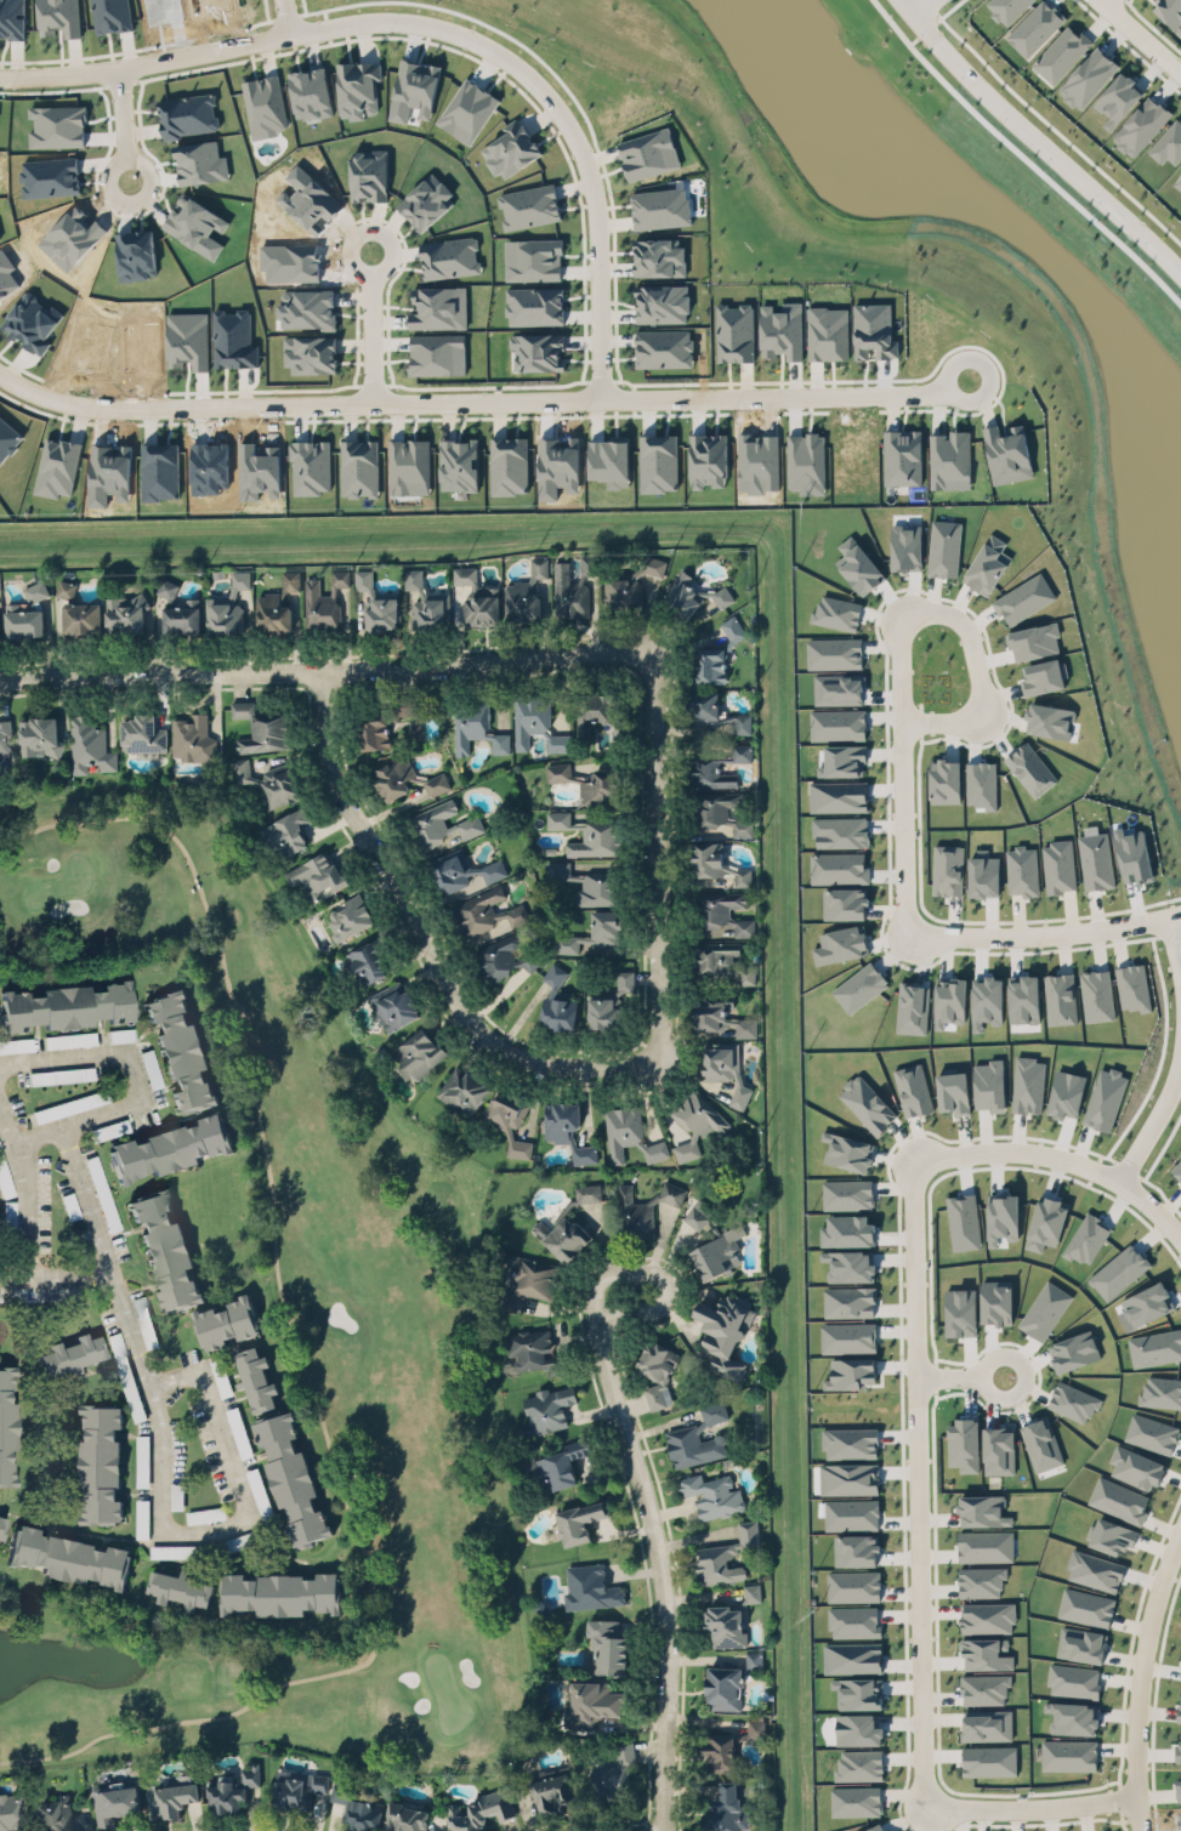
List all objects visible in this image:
road: (893, 0)
road: (1095, 0)
road: (1096, 0)
building: (1006, 8)
building: (1169, 11)
road: (278, 17)
building: (1035, 27)
road: (433, 34)
road: (1139, 39)
building: (1061, 53)
building: (1086, 73)
building: (358, 84)
building: (414, 89)
building: (310, 90)
building: (1118, 98)
building: (265, 104)
building: (467, 109)
road: (121, 124)
building: (1140, 125)
road: (1035, 137)
building: (1169, 143)
building: (505, 147)
building: (648, 153)
building: (368, 175)
building: (1177, 183)
building: (426, 201)
building: (528, 203)
building: (658, 204)
building: (455, 255)
building: (658, 256)
building: (662, 302)
building: (438, 305)
building: (534, 305)
building: (306, 306)
building: (45, 324)
building: (782, 326)
road: (362, 328)
building: (873, 330)
building: (734, 331)
building: (827, 332)
building: (308, 351)
building: (538, 351)
road: (602, 402)
road: (118, 408)
building: (1007, 453)
building: (901, 454)
building: (456, 461)
building: (609, 461)
building: (806, 461)
building: (509, 465)
building: (311, 466)
building: (409, 466)
building: (359, 467)
building: (907, 546)
building: (944, 547)
building: (988, 564)
building: (631, 584)
building: (66, 587)
building: (166, 587)
building: (573, 587)
building: (526, 591)
building: (694, 596)
building: (477, 597)
building: (1023, 598)
building: (323, 601)
building: (376, 603)
building: (426, 603)
building: (277, 604)
building: (227, 605)
building: (25, 610)
building: (125, 613)
building: (81, 616)
building: (182, 618)
road: (960, 622)
building: (1034, 641)
building: (834, 652)
building: (717, 654)
road: (327, 670)
building: (1044, 676)
building: (715, 711)
building: (601, 715)
building: (1049, 720)
building: (535, 722)
building: (384, 723)
building: (475, 726)
building: (414, 728)
building: (260, 729)
building: (142, 732)
building: (39, 737)
building: (192, 737)
building: (4, 744)
building: (89, 744)
building: (742, 751)
building: (844, 760)
building: (1030, 768)
building: (557, 772)
building: (709, 772)
building: (404, 778)
building: (268, 780)
building: (944, 780)
building: (601, 786)
building: (838, 795)
building: (714, 807)
building: (443, 823)
building: (740, 826)
building: (288, 831)
building: (840, 831)
building: (586, 834)
road: (657, 854)
building: (1096, 860)
building: (716, 862)
building: (1058, 865)
building: (838, 866)
building: (947, 869)
building: (461, 870)
building: (1022, 870)
building: (983, 872)
building: (318, 874)
building: (585, 882)
building: (844, 903)
building: (484, 911)
building: (721, 911)
building: (350, 916)
building: (591, 931)
road: (942, 932)
road: (426, 939)
road: (1171, 940)
building: (840, 944)
building: (504, 955)
building: (722, 960)
building: (367, 961)
building: (1132, 986)
building: (1097, 995)
building: (1060, 997)
building: (557, 1000)
building: (949, 1001)
building: (611, 1002)
building: (393, 1005)
building: (67, 1006)
building: (912, 1007)
building: (720, 1014)
building: (121, 1034)
building: (69, 1040)
building: (16, 1045)
building: (180, 1048)
building: (419, 1052)
road: (63, 1058)
building: (725, 1068)
building: (151, 1069)
building: (62, 1075)
road: (135, 1075)
building: (989, 1084)
building: (913, 1088)
building: (462, 1091)
building: (953, 1091)
building: (1105, 1097)
building: (867, 1103)
building: (69, 1105)
road: (1156, 1116)
building: (509, 1120)
road: (76, 1121)
building: (694, 1121)
building: (566, 1127)
building: (112, 1130)
building: (629, 1133)
building: (170, 1148)
building: (1176, 1167)
building: (4, 1178)
road: (24, 1190)
building: (101, 1190)
building: (847, 1193)
building: (69, 1206)
building: (643, 1209)
road: (1154, 1209)
building: (1001, 1213)
building: (964, 1218)
building: (12, 1221)
building: (1046, 1223)
building: (568, 1224)
building: (712, 1243)
building: (165, 1249)
road: (112, 1270)
road: (614, 1272)
building: (528, 1279)
road: (57, 1280)
building: (848, 1301)
building: (995, 1302)
building: (958, 1307)
building: (1045, 1309)
building: (226, 1323)
building: (725, 1332)
building: (846, 1335)
park: (291, 1341)
road: (293, 1347)
building: (533, 1350)
building: (70, 1353)
building: (657, 1369)
building: (850, 1372)
road: (959, 1375)
building: (126, 1376)
road: (172, 1376)
building: (256, 1380)
building: (547, 1408)
building: (6, 1426)
building: (697, 1437)
building: (850, 1442)
road: (221, 1444)
building: (964, 1444)
building: (142, 1458)
building: (100, 1462)
building: (561, 1463)
building: (1136, 1466)
road: (159, 1474)
building: (291, 1478)
building: (848, 1478)
building: (711, 1494)
building: (176, 1495)
building: (1119, 1499)
building: (982, 1509)
building: (205, 1513)
building: (851, 1513)
building: (141, 1517)
building: (580, 1519)
building: (1, 1526)
road: (660, 1530)
road: (203, 1531)
building: (984, 1545)
building: (174, 1549)
building: (856, 1549)
building: (725, 1556)
building: (69, 1558)
building: (1095, 1570)
building: (853, 1585)
building: (590, 1586)
building: (180, 1588)
building: (279, 1593)
building: (1085, 1607)
building: (987, 1616)
building: (728, 1619)
road: (918, 1619)
building: (853, 1620)
building: (607, 1645)
building: (984, 1653)
building: (851, 1655)
building: (753, 1657)
building: (984, 1685)
building: (723, 1687)
building: (589, 1701)
building: (1179, 1707)
building: (1072, 1717)
building: (986, 1723)
building: (755, 1728)
building: (857, 1728)
building: (720, 1750)
building: (1068, 1753)
building: (988, 1758)
building: (612, 1773)
building: (231, 1789)
building: (552, 1790)
building: (299, 1791)
building: (853, 1797)
building: (168, 1799)
building: (113, 1804)
building: (358, 1808)
building: (726, 1808)
building: (10, 1810)
building: (481, 1810)
building: (53, 1814)
road: (1132, 1815)
building: (405, 1816)

